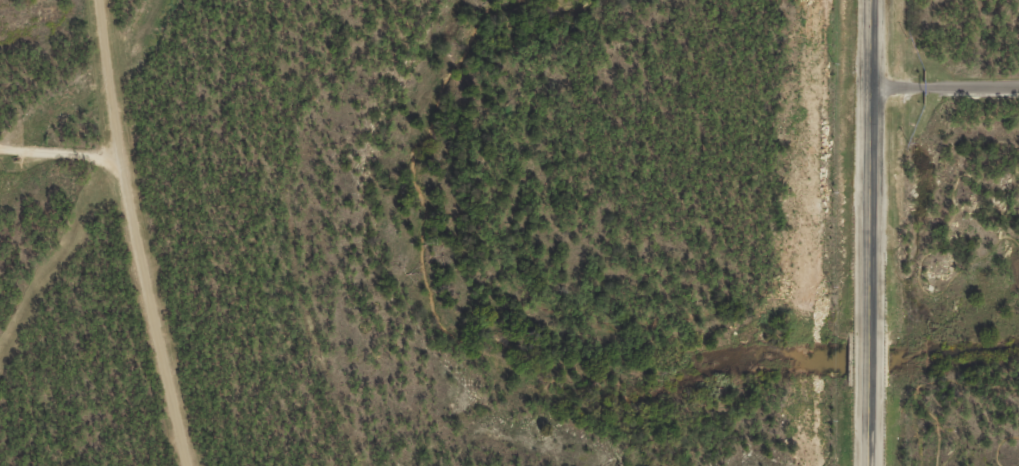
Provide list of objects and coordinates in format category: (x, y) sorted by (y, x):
road: (944, 88)
road: (61, 154)
road: (869, 232)
road: (138, 234)
road: (945, 236)
road: (921, 389)
road: (1001, 445)

